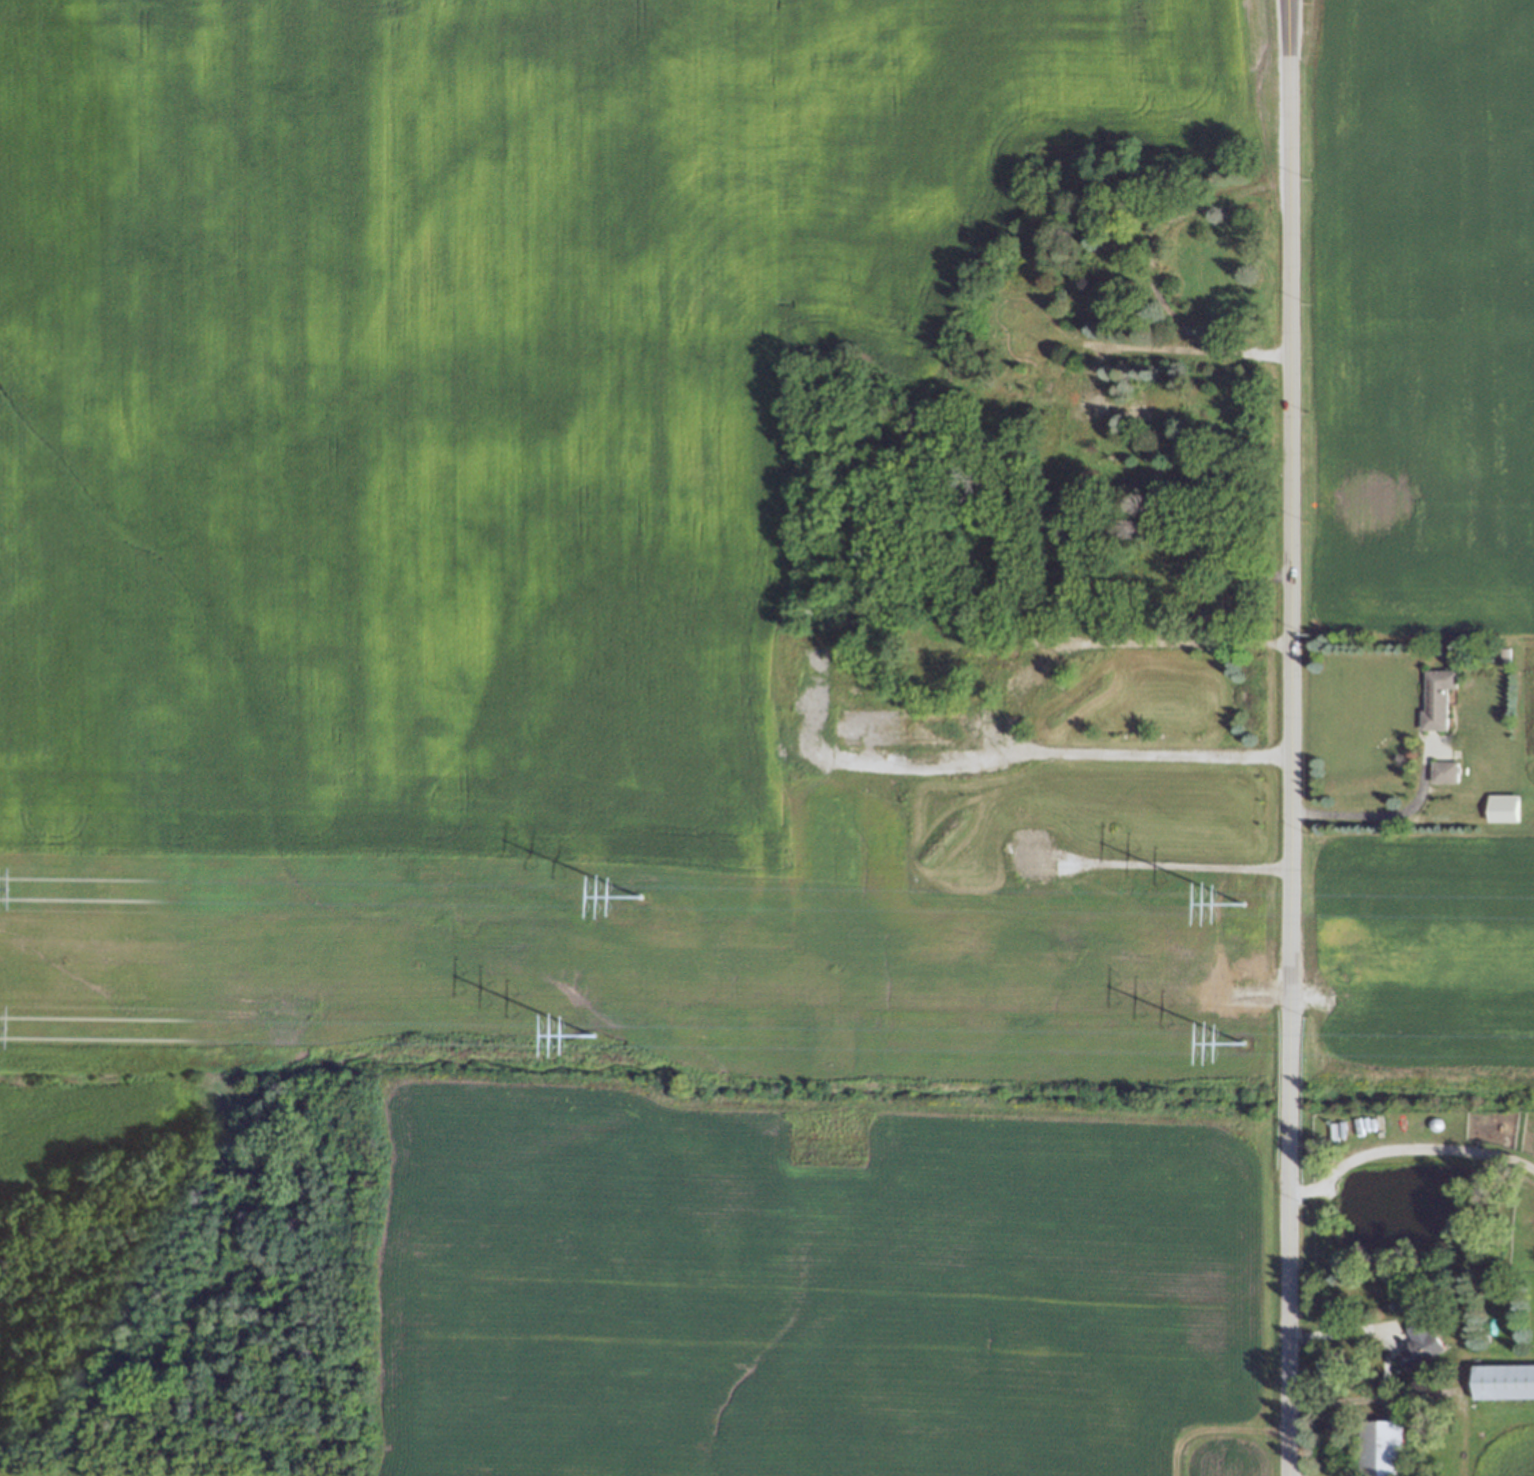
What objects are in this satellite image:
road: (1150, 269)
road: (1125, 347)
crop: (477, 390)
road: (1172, 642)
building: (1437, 705)
road: (1284, 738)
road: (1096, 754)
building: (1444, 772)
building: (1502, 808)
road: (1361, 814)
road: (1174, 865)
power tower: (640, 882)
power tower: (1238, 896)
power tower: (597, 1024)
power tower: (1244, 1031)
road: (1415, 1148)
road: (1295, 1193)
road: (1336, 1333)
building: (1420, 1345)
building: (1503, 1382)
building: (1380, 1448)

